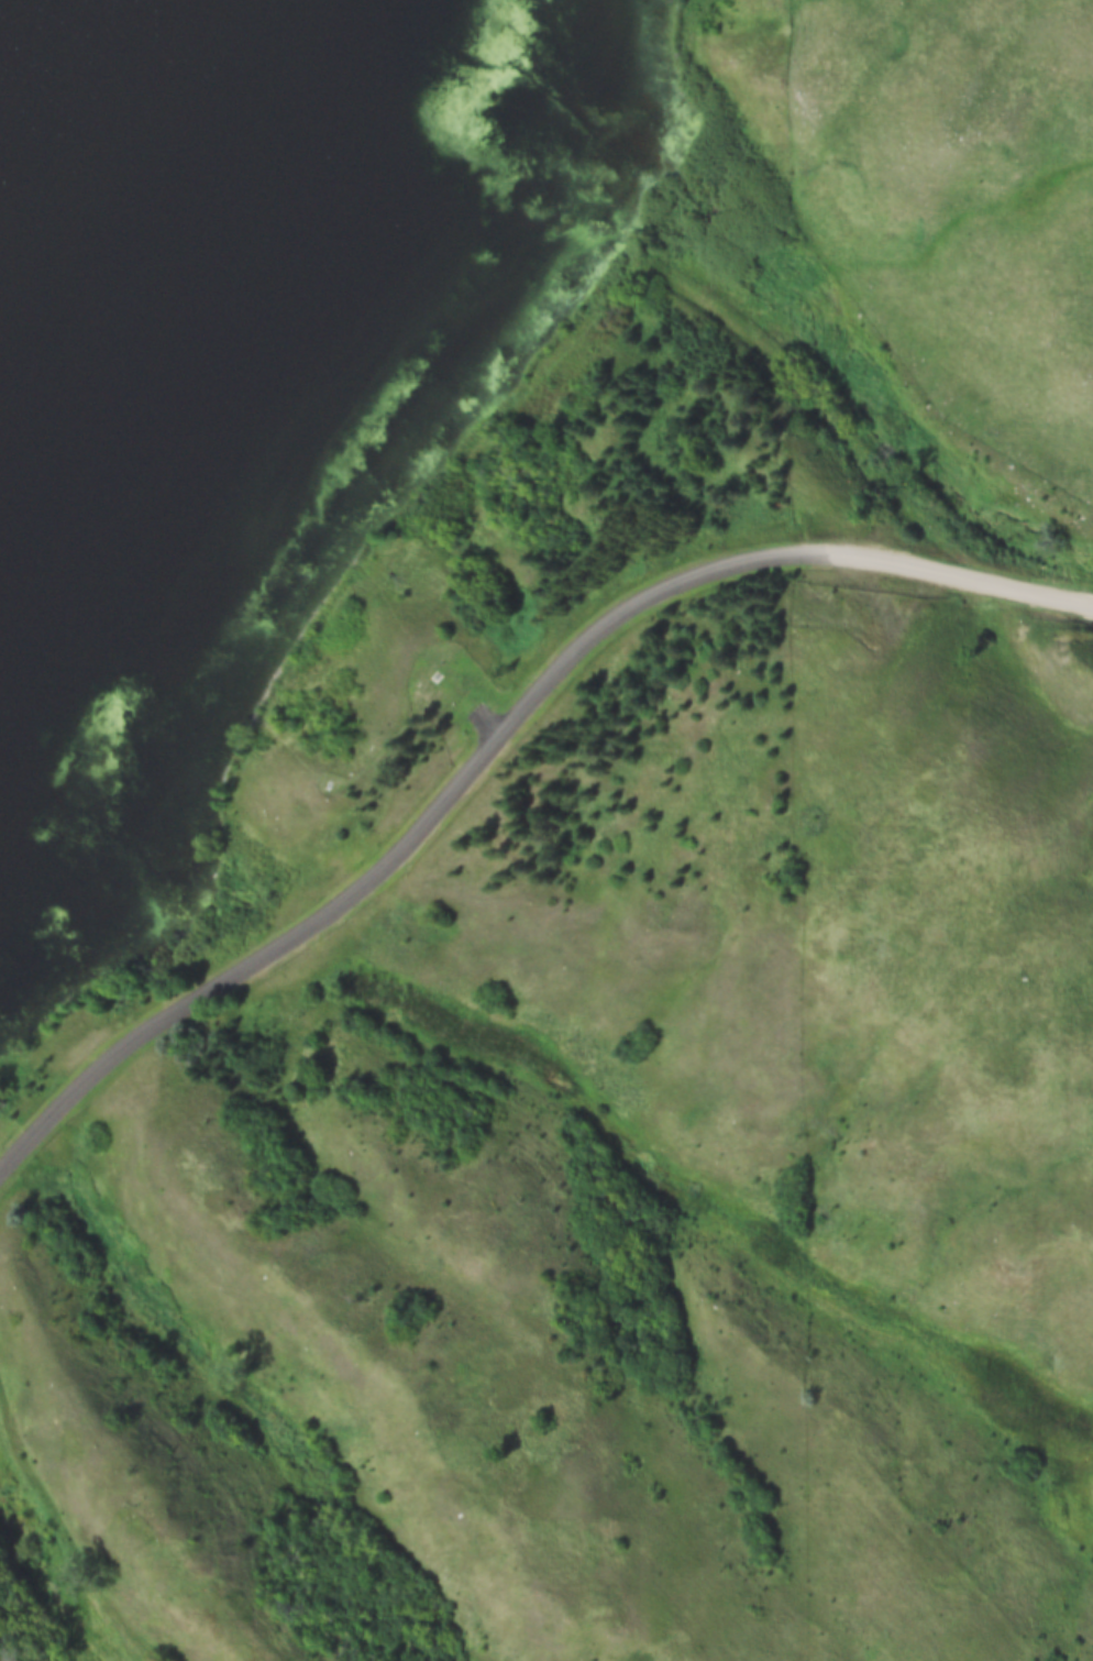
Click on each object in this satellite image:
road: (958, 580)
road: (409, 856)

